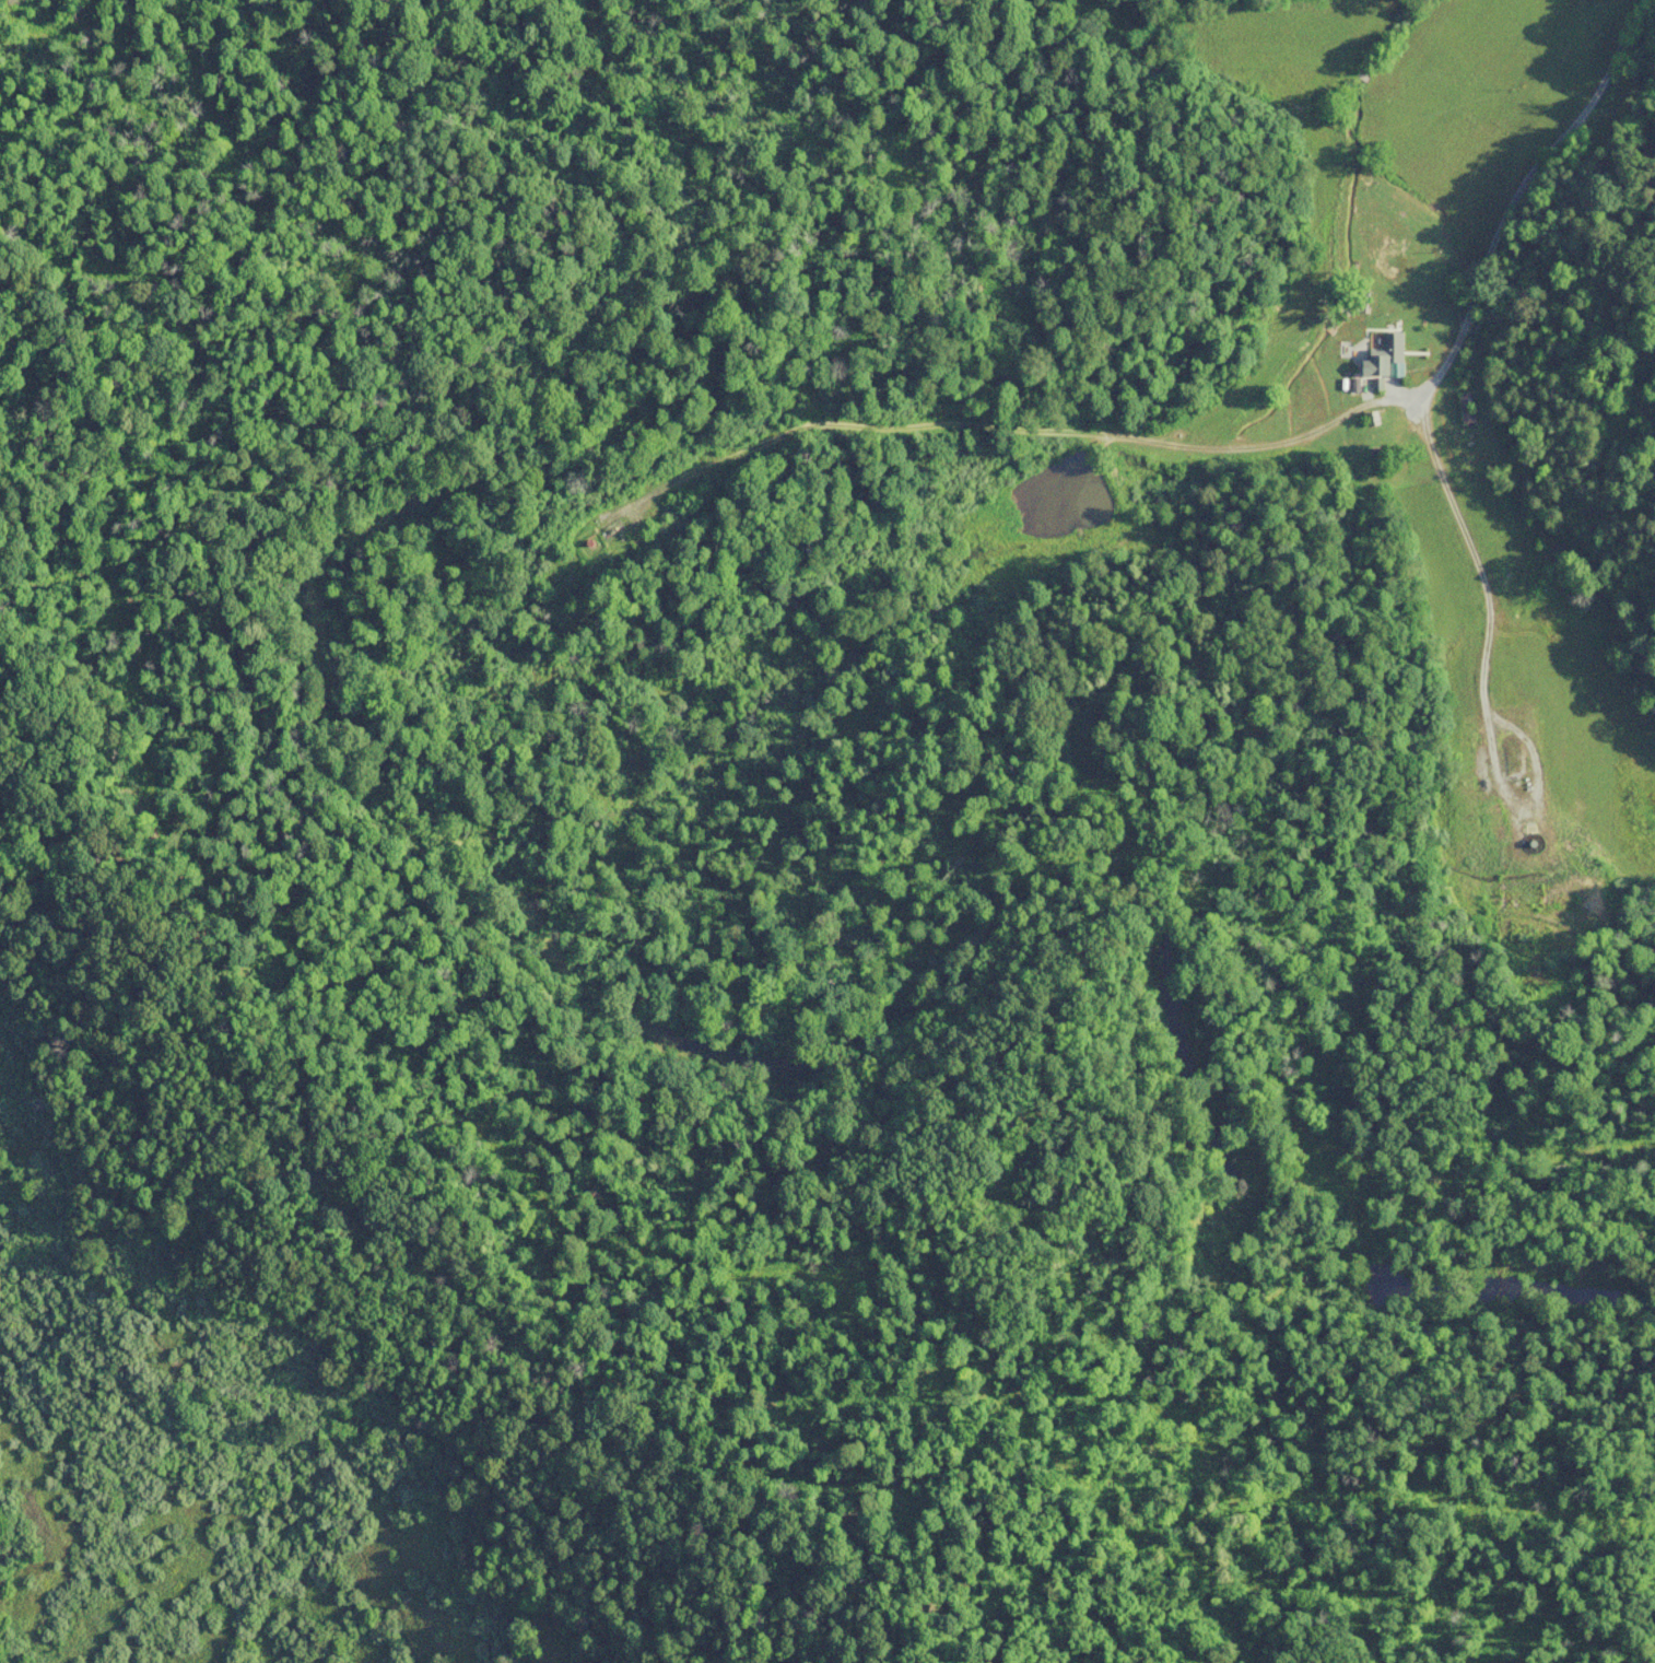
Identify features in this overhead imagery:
road: (1490, 208)
building: (1381, 347)
building: (1460, 408)

